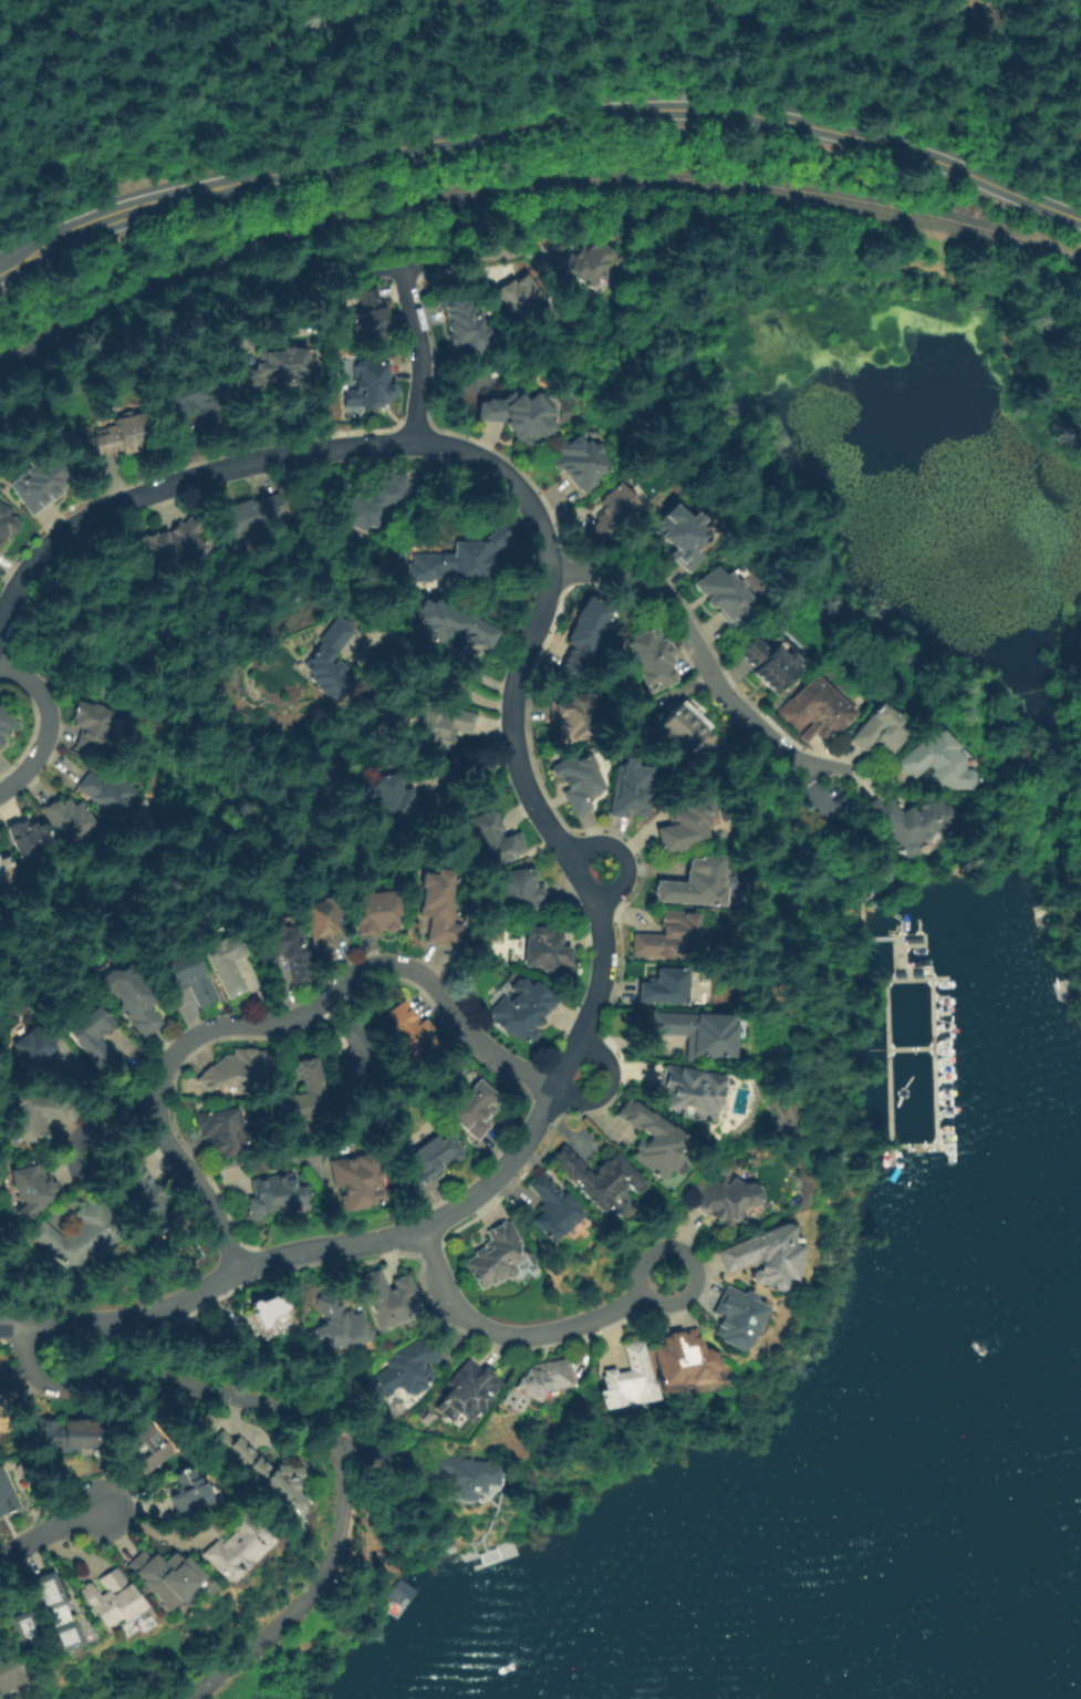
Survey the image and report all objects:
park: (500, 74)
road: (526, 124)
road: (883, 142)
railway: (526, 183)
road: (185, 194)
building: (586, 263)
road: (477, 267)
building: (526, 298)
building: (370, 317)
building: (465, 325)
road: (420, 350)
building: (269, 370)
building: (373, 383)
building: (186, 400)
building: (520, 416)
building: (123, 435)
road: (424, 442)
building: (580, 463)
building: (39, 483)
building: (375, 501)
building: (614, 515)
building: (250, 516)
building: (7, 524)
building: (683, 537)
building: (171, 546)
building: (462, 560)
building: (728, 593)
building: (448, 624)
building: (584, 635)
road: (690, 639)
building: (324, 652)
road: (434, 660)
building: (652, 660)
building: (770, 662)
building: (822, 708)
building: (573, 718)
building: (4, 721)
road: (46, 724)
building: (444, 724)
building: (94, 727)
building: (683, 728)
building: (880, 731)
building: (1, 740)
building: (934, 763)
road: (824, 765)
building: (578, 781)
building: (632, 789)
building: (112, 796)
building: (403, 800)
building: (69, 819)
building: (907, 822)
building: (685, 827)
building: (30, 840)
building: (495, 840)
road: (809, 847)
road: (621, 856)
building: (6, 871)
road: (575, 878)
building: (694, 884)
building: (524, 894)
building: (439, 907)
building: (377, 912)
building: (323, 925)
building: (667, 939)
building: (287, 951)
building: (547, 951)
building: (225, 964)
road: (602, 971)
building: (184, 976)
building: (664, 987)
building: (134, 997)
building: (523, 1013)
road: (269, 1019)
building: (700, 1033)
building: (410, 1034)
building: (94, 1037)
building: (37, 1055)
road: (568, 1059)
building: (357, 1060)
building: (235, 1070)
road: (606, 1089)
building: (304, 1097)
building: (688, 1097)
pier: (933, 1104)
building: (475, 1109)
building: (37, 1116)
road: (95, 1128)
building: (222, 1132)
building: (654, 1140)
road: (249, 1156)
building: (432, 1160)
building: (599, 1177)
building: (354, 1182)
building: (33, 1188)
building: (271, 1195)
building: (149, 1198)
building: (730, 1200)
building: (553, 1209)
building: (79, 1235)
road: (303, 1251)
building: (496, 1256)
building: (767, 1256)
road: (690, 1257)
building: (388, 1302)
building: (264, 1312)
building: (738, 1317)
building: (336, 1323)
road: (506, 1334)
building: (685, 1360)
building: (405, 1370)
building: (541, 1380)
building: (627, 1382)
building: (468, 1397)
road: (313, 1421)
building: (66, 1434)
building: (149, 1442)
building: (259, 1472)
building: (465, 1475)
building: (181, 1493)
building: (4, 1494)
road: (49, 1530)
building: (227, 1544)
building: (154, 1576)
building: (397, 1592)
building: (101, 1598)
building: (35, 1617)
building: (6, 1678)

